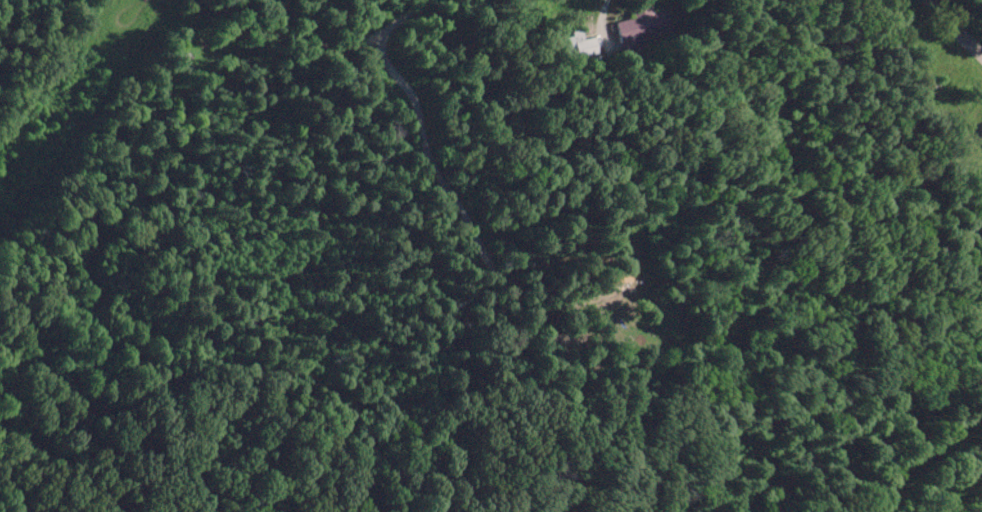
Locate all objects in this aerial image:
building: (640, 24)
road: (957, 26)
building: (576, 44)
building: (981, 129)
road: (980, 510)

